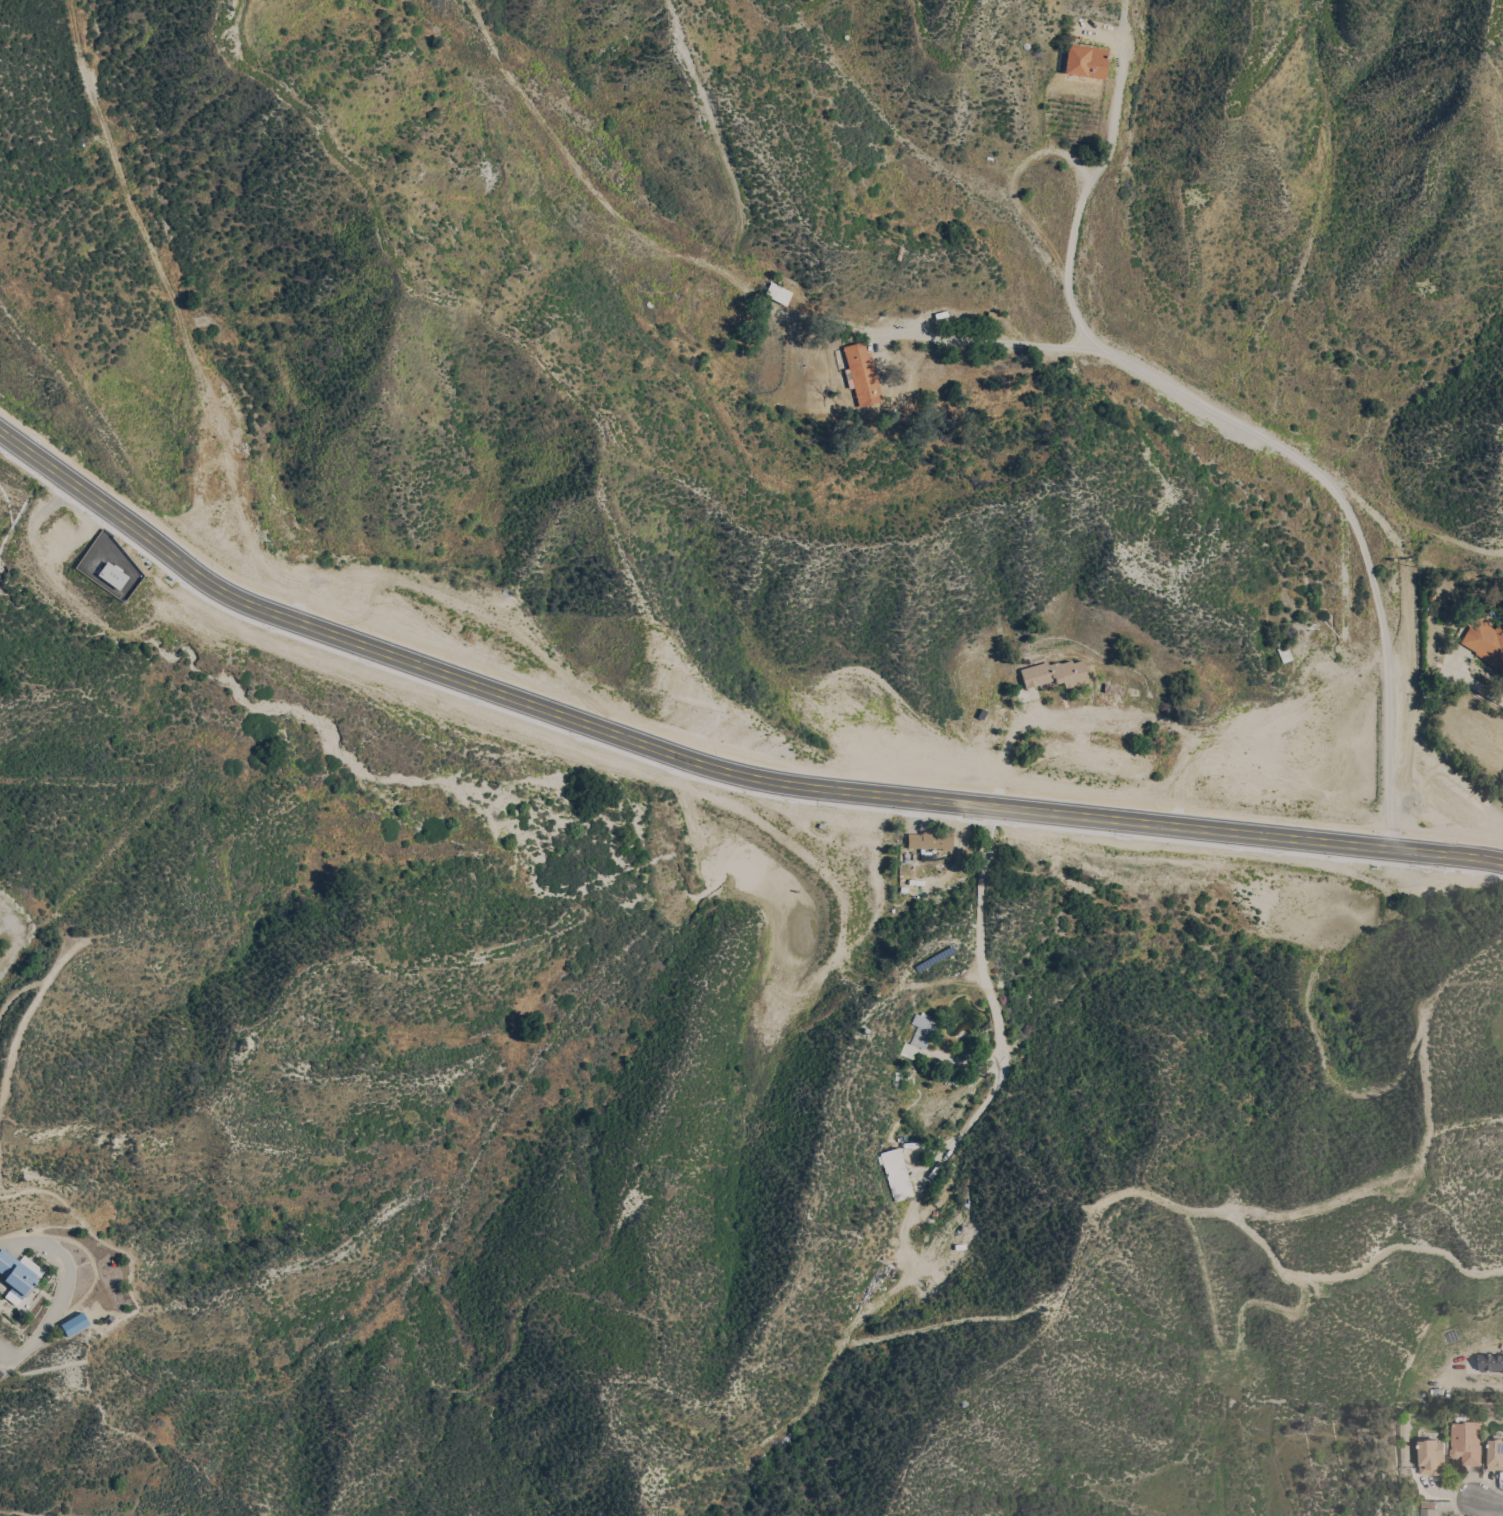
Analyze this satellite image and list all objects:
building: (1086, 61)
road: (1084, 192)
building: (778, 292)
building: (993, 316)
road: (997, 343)
building: (862, 374)
road: (1386, 530)
building: (1485, 640)
building: (1284, 651)
road: (1341, 664)
building: (1055, 673)
road: (1010, 735)
building: (1041, 758)
road: (713, 766)
building: (1249, 794)
building: (930, 839)
building: (932, 959)
building: (920, 1034)
road: (1002, 1056)
building: (897, 1173)
building: (944, 1215)
road: (39, 1243)
building: (920, 1262)
building: (18, 1274)
building: (69, 1326)
road: (44, 1327)
building: (1450, 1336)
road: (9, 1351)
building: (1490, 1362)
road: (1471, 1389)
building: (1465, 1440)
building: (1495, 1454)
building: (1429, 1456)
road: (1486, 1504)
building: (1427, 1508)

